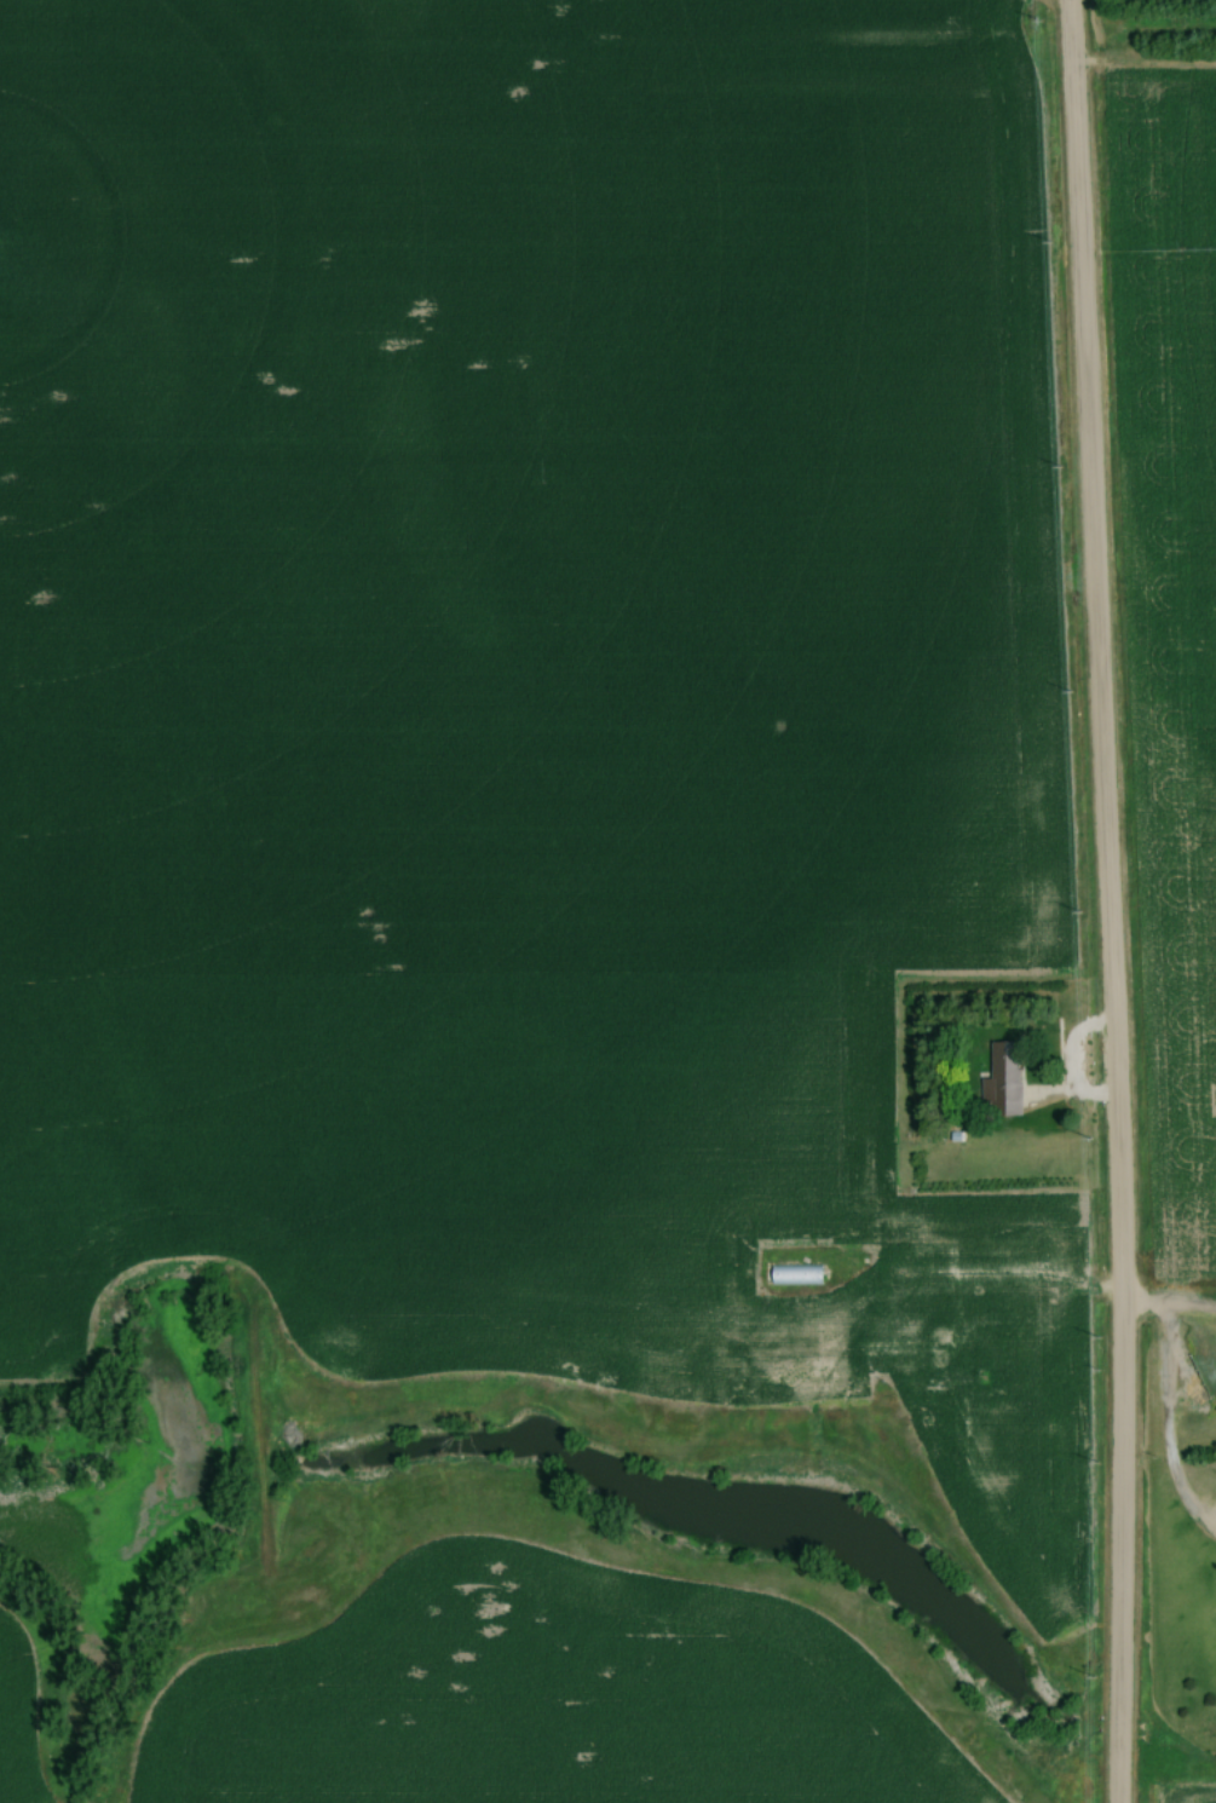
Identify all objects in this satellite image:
railway: (607, 45)
road: (1107, 900)
building: (1002, 1083)
building: (795, 1277)
road: (1165, 1411)

